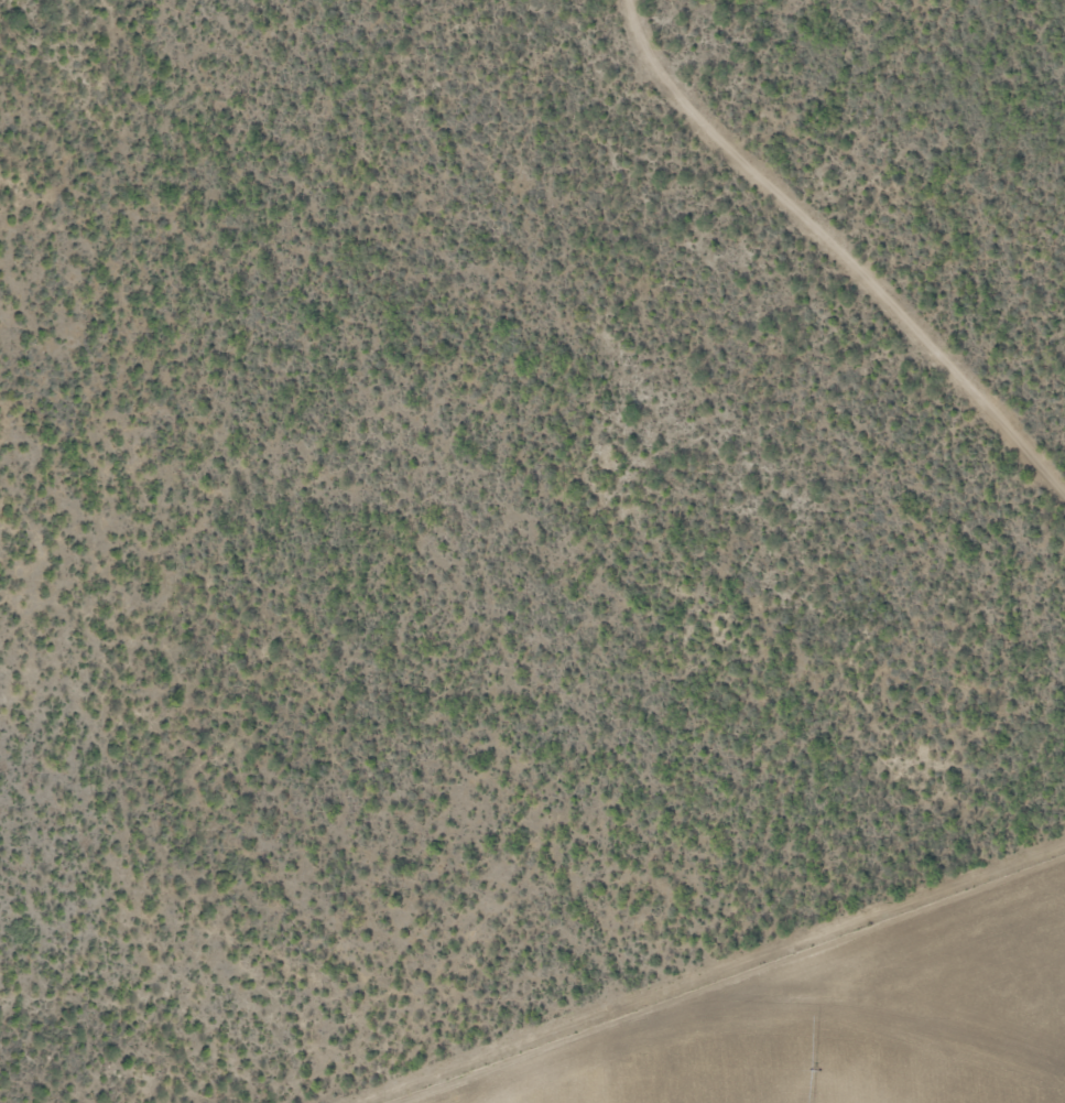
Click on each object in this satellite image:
road: (828, 239)

